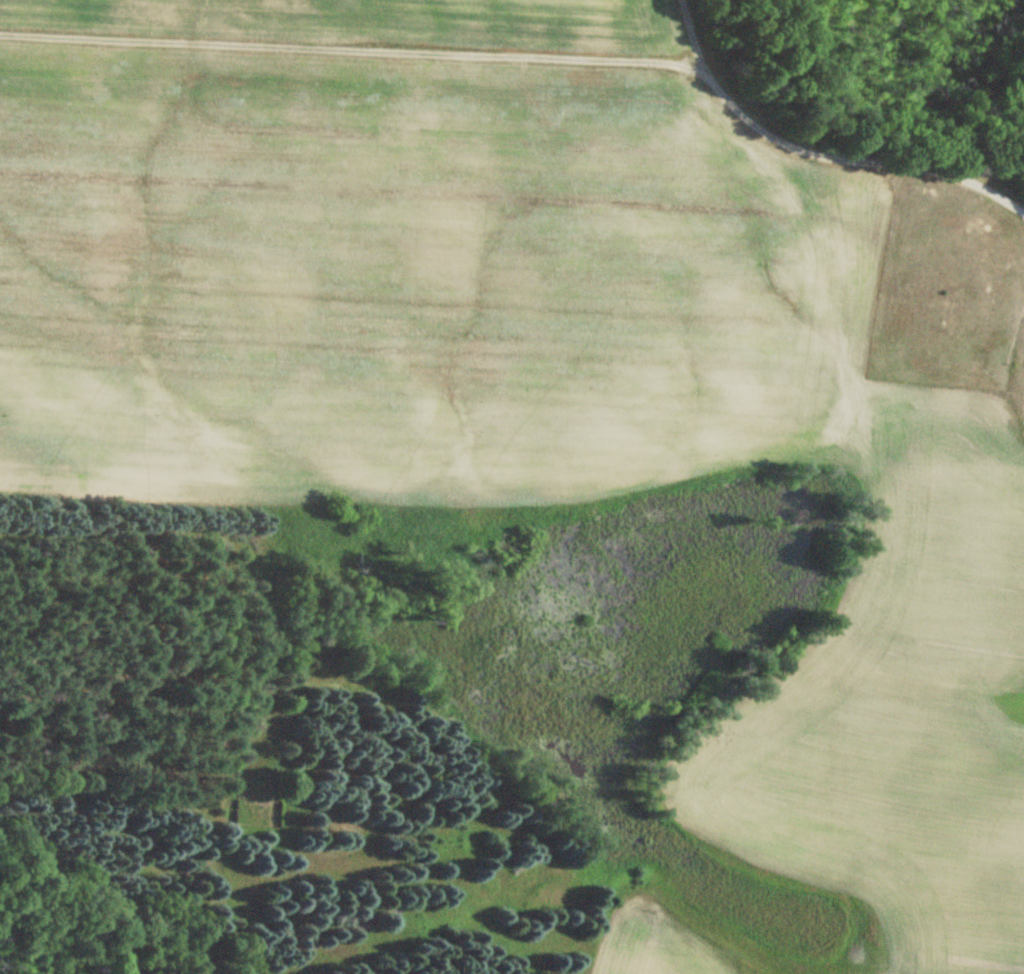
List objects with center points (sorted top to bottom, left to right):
road: (818, 147)

